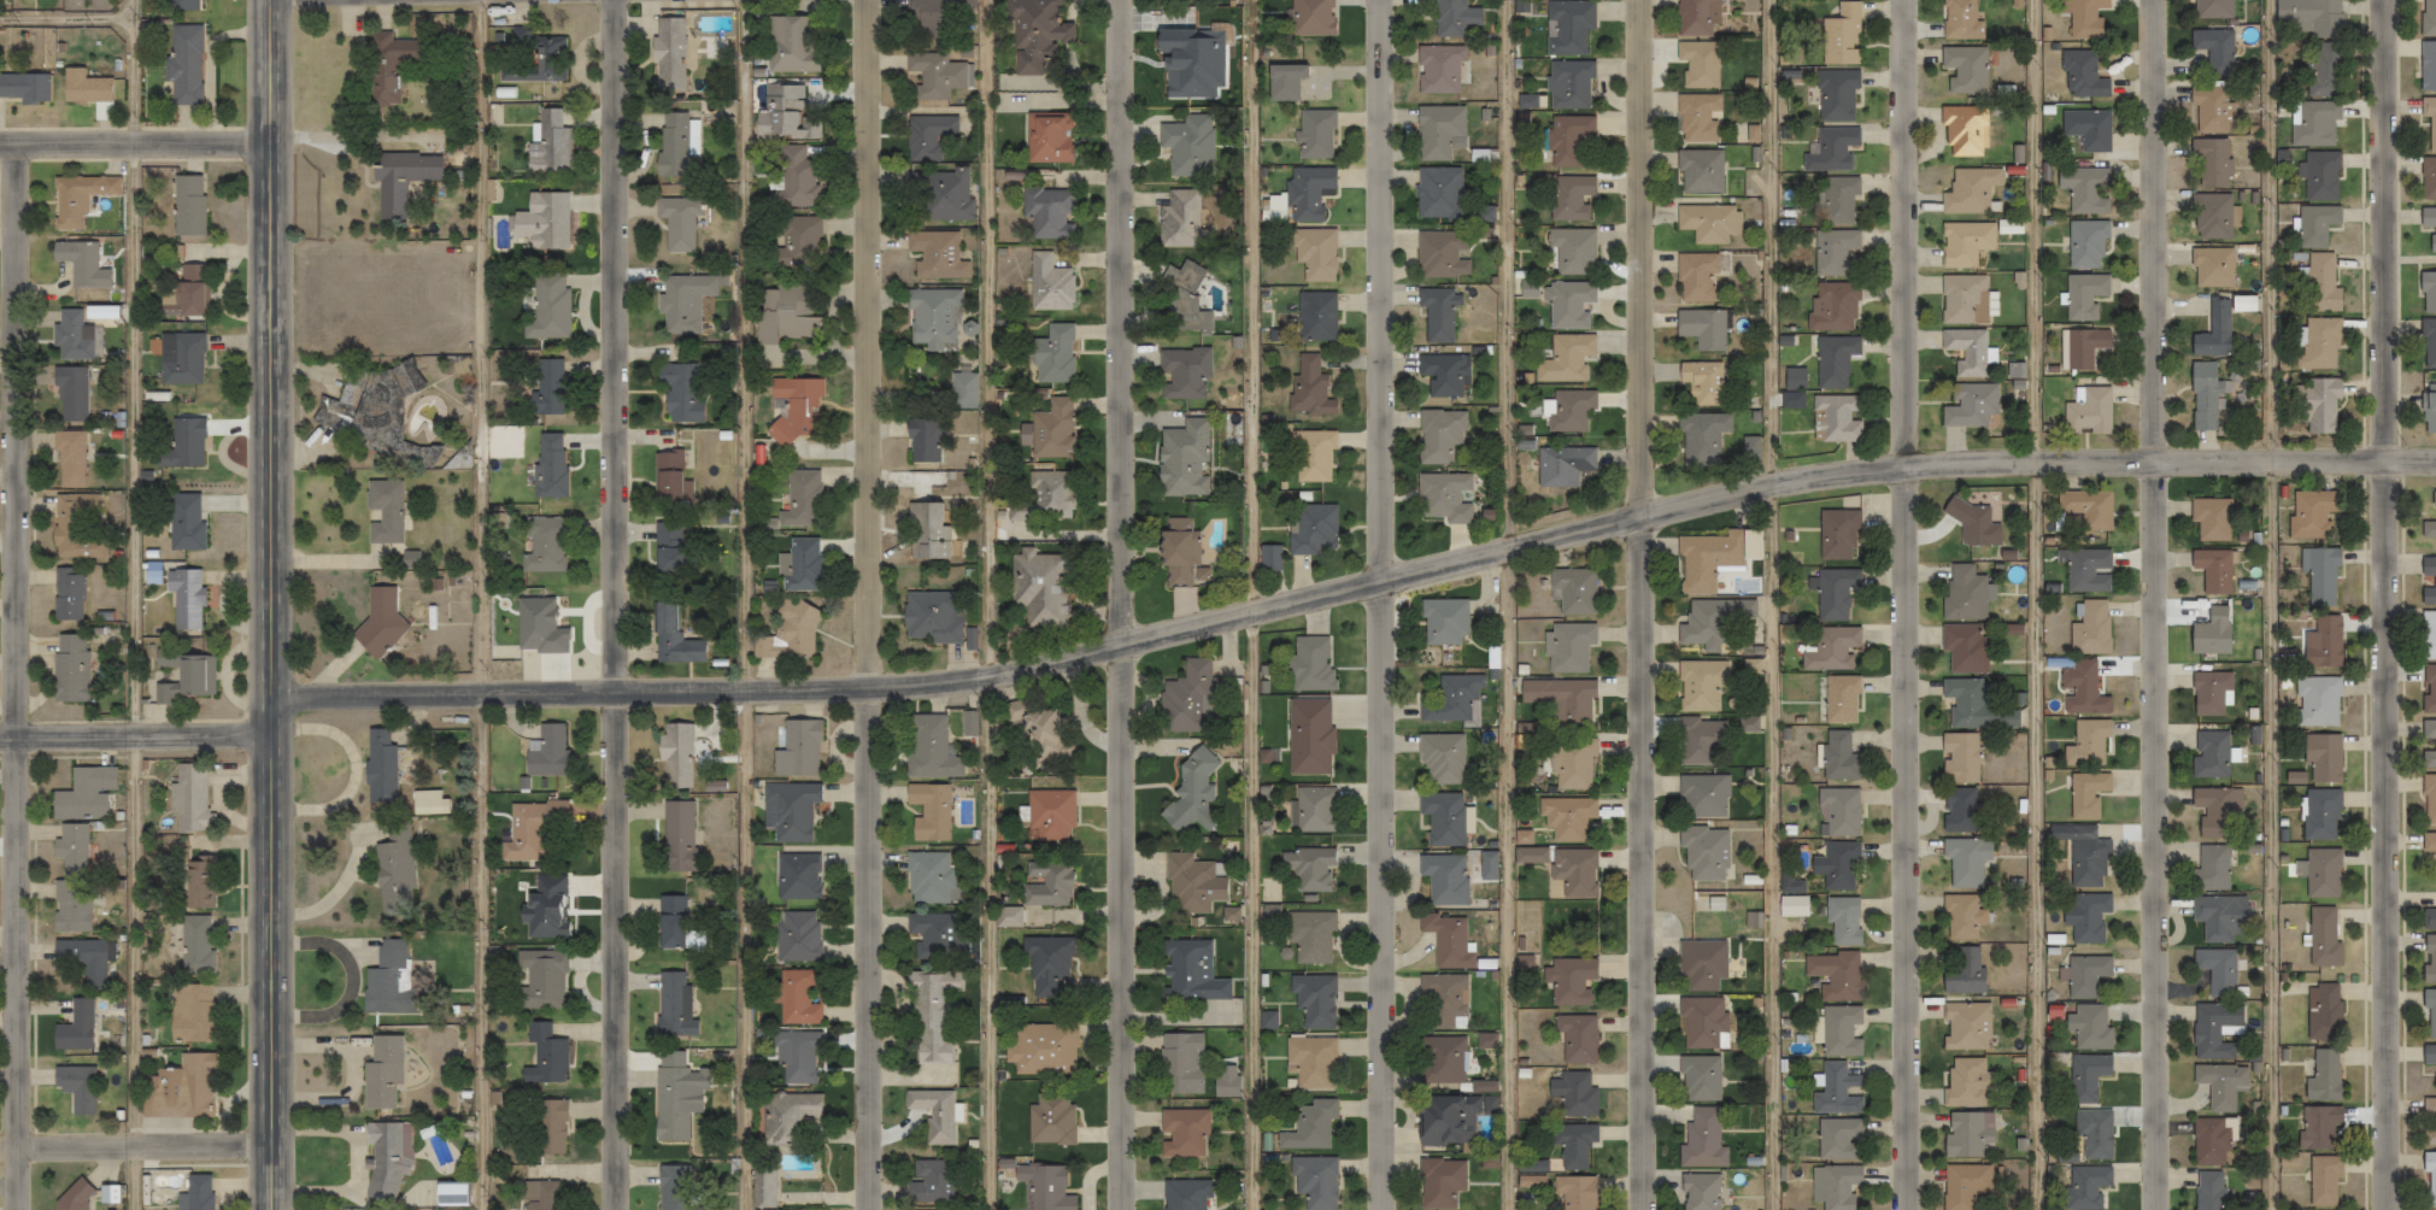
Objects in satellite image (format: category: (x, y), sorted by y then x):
building: (196, 6)
building: (2212, 8)
building: (922, 14)
building: (1310, 17)
building: (1445, 17)
building: (1696, 17)
building: (2308, 17)
building: (1959, 18)
building: (2085, 18)
building: (2428, 18)
road: (71, 20)
building: (1567, 28)
building: (1034, 34)
building: (1842, 35)
building: (787, 46)
building: (2214, 47)
building: (667, 54)
building: (548, 58)
building: (1698, 63)
building: (2428, 65)
building: (385, 66)
building: (198, 67)
building: (1438, 69)
building: (1966, 69)
building: (2323, 71)
building: (933, 74)
building: (2082, 75)
building: (1284, 82)
building: (1568, 83)
building: (31, 90)
building: (96, 92)
building: (1836, 95)
building: (2211, 107)
building: (787, 114)
building: (1698, 117)
building: (2430, 118)
building: (2313, 122)
building: (2088, 128)
building: (1437, 130)
building: (1964, 131)
building: (1314, 133)
building: (928, 137)
building: (1045, 137)
building: (1567, 137)
building: (547, 141)
road: (136, 142)
building: (1185, 145)
building: (675, 146)
building: (1831, 148)
building: (2212, 160)
building: (1698, 170)
building: (2320, 175)
building: (792, 176)
building: (2428, 177)
building: (399, 180)
building: (2083, 189)
building: (1437, 190)
building: (1970, 190)
building: (1307, 192)
building: (939, 194)
building: (1571, 196)
building: (76, 198)
building: (1837, 200)
building: (187, 205)
building: (1047, 212)
building: (2211, 216)
building: (1178, 218)
building: (542, 219)
building: (1708, 222)
building: (675, 223)
building: (2429, 223)
building: (2315, 224)
building: (794, 241)
building: (1967, 243)
building: (2086, 243)
building: (1572, 249)
building: (1833, 251)
building: (1315, 253)
building: (935, 254)
building: (1442, 254)
building: (80, 264)
building: (2212, 266)
building: (1696, 276)
building: (1047, 283)
building: (2321, 283)
building: (186, 292)
building: (2428, 292)
building: (2084, 295)
building: (1181, 298)
building: (1964, 299)
building: (681, 301)
building: (2241, 302)
building: (1568, 304)
building: (550, 305)
building: (1832, 306)
building: (1437, 312)
building: (786, 316)
building: (1315, 316)
building: (931, 317)
building: (1702, 328)
building: (2213, 330)
building: (70, 335)
building: (2319, 342)
building: (2428, 343)
building: (2083, 350)
building: (1962, 352)
building: (1052, 354)
building: (180, 358)
building: (1565, 358)
building: (1833, 360)
building: (1184, 372)
building: (1444, 374)
building: (1703, 382)
building: (546, 386)
building: (1309, 388)
building: (963, 389)
building: (69, 392)
building: (679, 392)
building: (2205, 397)
building: (1971, 405)
building: (2315, 405)
building: (793, 407)
building: (1569, 409)
building: (2088, 411)
building: (375, 412)
building: (2429, 412)
building: (1836, 418)
building: (1051, 428)
building: (1439, 434)
building: (1701, 437)
building: (924, 440)
building: (182, 444)
building: (1311, 456)
building: (67, 458)
building: (1181, 459)
building: (547, 464)
building: (1561, 465)
building: (667, 474)
building: (1047, 489)
building: (1443, 497)
building: (800, 499)
building: (2088, 507)
building: (383, 510)
building: (2312, 513)
building: (2211, 518)
building: (183, 521)
building: (1973, 523)
building: (76, 525)
building: (2429, 525)
building: (1311, 528)
building: (927, 531)
building: (1838, 534)
building: (542, 545)
building: (667, 547)
building: (1179, 551)
building: (407, 559)
building: (1706, 559)
building: (798, 565)
building: (2086, 570)
building: (2212, 570)
building: (2319, 575)
building: (2434, 582)
road: (1355, 586)
building: (1040, 587)
building: (1573, 591)
building: (1964, 592)
building: (66, 593)
building: (1835, 593)
building: (183, 598)
road: (272, 604)
road: (489, 604)
road: (611, 604)
road: (753, 604)
road: (867, 604)
road: (1120, 604)
road: (1261, 604)
road: (1378, 604)
road: (1771, 604)
road: (1904, 604)
road: (2035, 604)
road: (2152, 604)
road: (2267, 604)
road: (2384, 604)
road: (142, 605)
road: (996, 605)
road: (1512, 605)
road: (1638, 605)
building: (931, 617)
building: (378, 621)
building: (1444, 621)
building: (1702, 625)
building: (2091, 628)
building: (2211, 633)
building: (788, 634)
building: (2428, 635)
building: (674, 636)
building: (2323, 642)
building: (1568, 647)
building: (1966, 647)
building: (1831, 648)
building: (1310, 664)
building: (67, 668)
road: (17, 676)
building: (184, 676)
building: (1698, 686)
building: (2082, 689)
building: (2429, 689)
building: (2209, 693)
building: (1187, 698)
building: (1451, 698)
building: (1841, 699)
building: (1560, 700)
building: (2317, 700)
building: (1968, 703)
building: (1039, 729)
building: (1309, 736)
road: (136, 738)
building: (1700, 740)
building: (2088, 744)
building: (2435, 745)
building: (931, 747)
building: (797, 748)
building: (545, 750)
building: (2209, 753)
building: (675, 754)
building: (1838, 754)
building: (2323, 757)
building: (1442, 758)
building: (1961, 758)
building: (377, 763)
building: (1572, 764)
building: (81, 791)
building: (1190, 791)
building: (2088, 794)
building: (1703, 795)
building: (187, 797)
building: (2429, 800)
building: (1311, 807)
building: (788, 809)
building: (928, 810)
building: (1841, 810)
building: (2215, 810)
building: (1049, 813)
building: (2320, 813)
building: (1566, 817)
building: (1443, 818)
building: (1956, 822)
building: (527, 826)
building: (676, 834)
building: (70, 842)
building: (2429, 842)
building: (1704, 852)
building: (1967, 860)
building: (2090, 863)
building: (393, 864)
building: (1837, 865)
building: (1308, 867)
building: (2212, 868)
building: (1574, 871)
building: (794, 874)
building: (2321, 874)
building: (928, 875)
building: (1444, 879)
building: (1049, 881)
building: (1192, 882)
building: (196, 885)
building: (70, 903)
building: (1794, 905)
building: (1006, 915)
building: (2089, 917)
building: (2214, 918)
building: (2429, 918)
building: (1843, 920)
building: (1964, 921)
building: (673, 922)
building: (796, 934)
building: (935, 934)
building: (1310, 934)
building: (2323, 938)
building: (1448, 940)
building: (195, 942)
building: (82, 957)
building: (2429, 961)
building: (1045, 964)
building: (1701, 964)
building: (1190, 970)
building: (2217, 970)
building: (1965, 971)
building: (2086, 974)
building: (1835, 975)
building: (387, 976)
building: (539, 979)
building: (1571, 981)
building: (798, 995)
building: (1314, 998)
building: (1443, 1002)
building: (674, 1004)
building: (189, 1011)
building: (931, 1012)
building: (2321, 1012)
building: (2429, 1014)
building: (1703, 1023)
building: (74, 1026)
building: (1966, 1026)
building: (2091, 1028)
building: (2213, 1029)
building: (1841, 1032)
building: (1577, 1038)
building: (1484, 1041)
building: (1041, 1047)
building: (544, 1055)
building: (794, 1055)
building: (2429, 1057)
building: (1309, 1059)
building: (1440, 1062)
building: (1176, 1063)
building: (381, 1071)
building: (2086, 1076)
building: (1698, 1077)
building: (2321, 1077)
building: (1966, 1082)
building: (1223, 1085)
building: (2221, 1085)
building: (76, 1087)
building: (1485, 1087)
building: (181, 1088)
building: (1837, 1091)
building: (1573, 1093)
building: (670, 1102)
building: (788, 1111)
building: (932, 1112)
building: (1050, 1117)
building: (1449, 1118)
building: (2429, 1122)
building: (546, 1124)
building: (1308, 1124)
building: (2318, 1128)
building: (1181, 1130)
building: (1967, 1134)
building: (2094, 1134)
building: (1838, 1139)
building: (1702, 1140)
building: (2212, 1141)
building: (1573, 1144)
road: (136, 1146)
building: (386, 1155)
building: (2429, 1177)
building: (927, 1179)
building: (1314, 1180)
building: (2321, 1181)
building: (1439, 1182)
building: (1965, 1185)
building: (1043, 1186)
building: (1835, 1186)
building: (2085, 1187)
building: (676, 1188)
building: (2208, 1191)
building: (108, 1192)
building: (198, 1192)
building: (446, 1192)
building: (1574, 1192)
building: (1700, 1192)
building: (1184, 1193)
building: (792, 1194)
building: (72, 1196)
building: (539, 1196)

